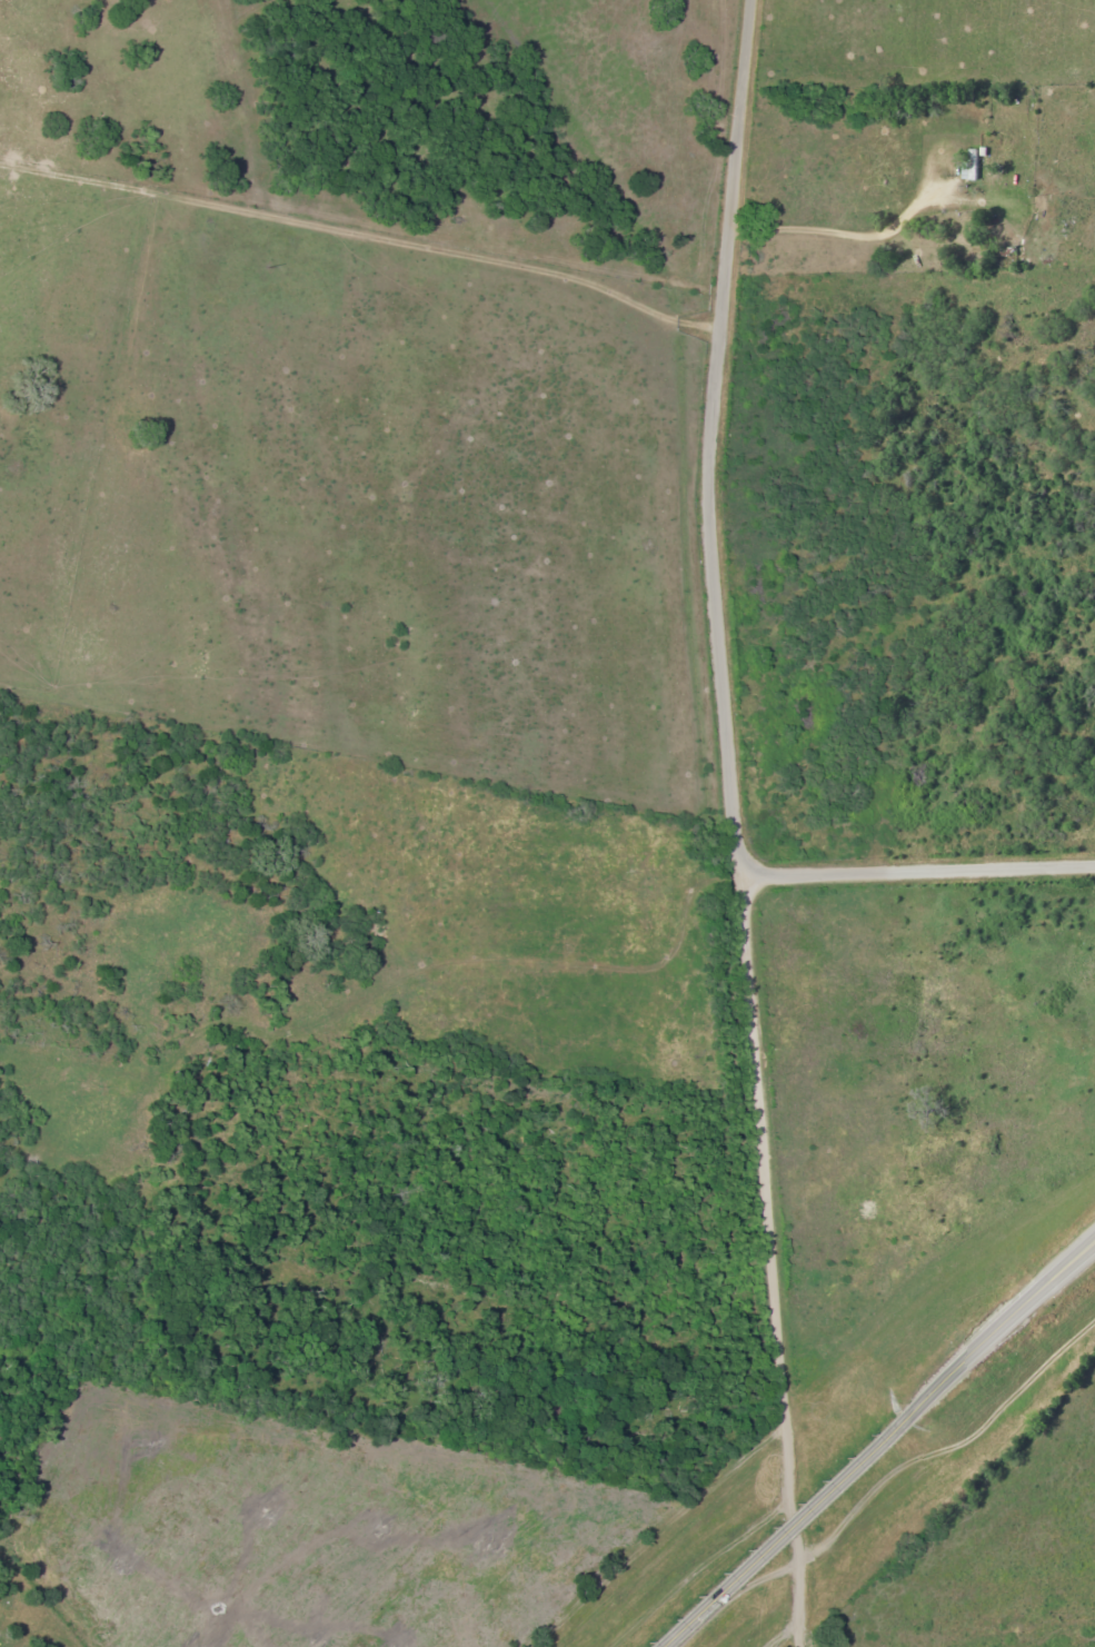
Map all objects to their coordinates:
building: (972, 166)
road: (730, 738)
road: (920, 869)
road: (561, 965)
road: (1002, 1333)
road: (867, 1337)
road: (643, 1459)
road: (784, 1534)
road: (1015, 1600)
road: (810, 1626)

